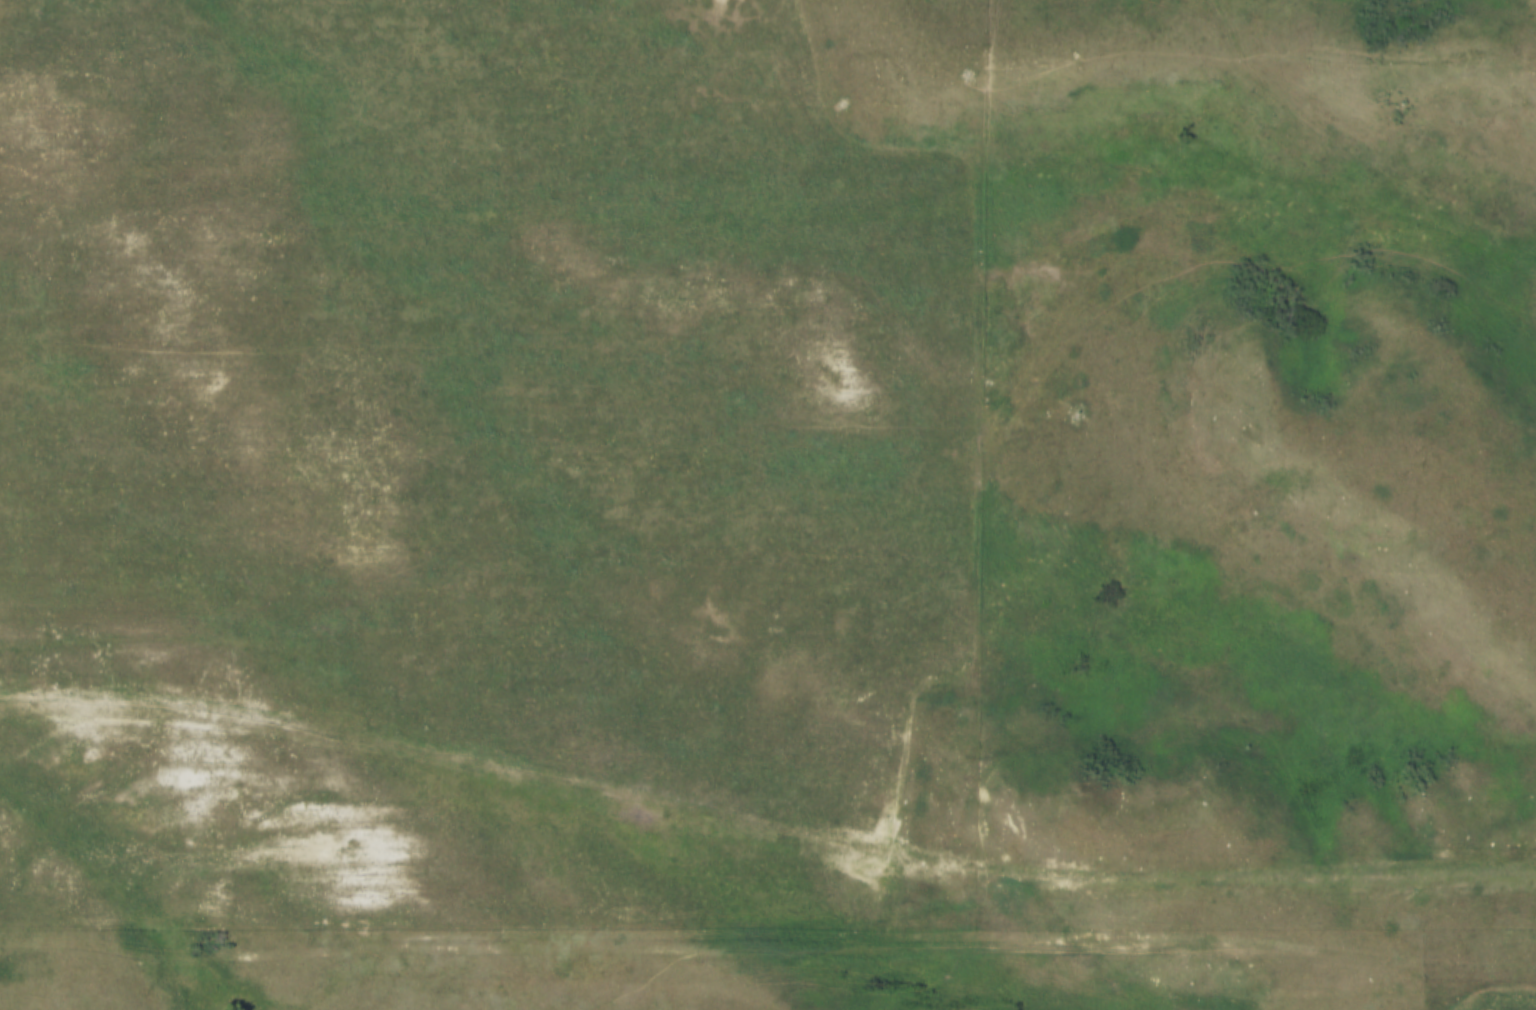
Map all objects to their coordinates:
road: (859, 970)

